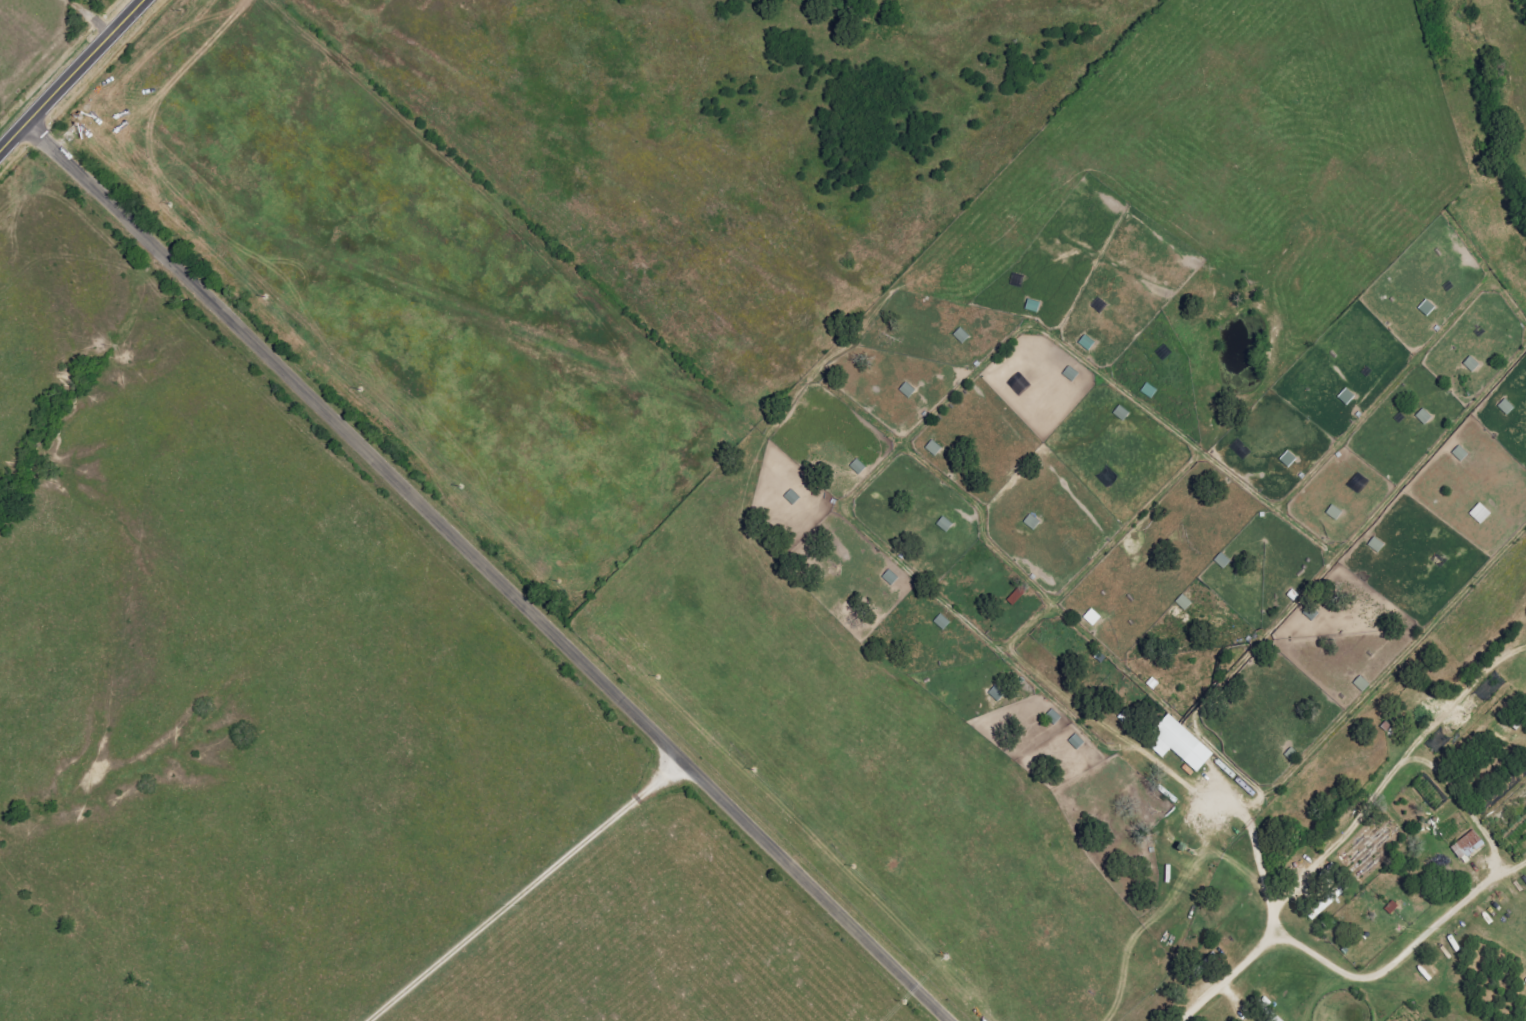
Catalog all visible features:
road: (69, 74)
building: (1505, 407)
building: (1422, 417)
road: (486, 571)
building: (1015, 596)
building: (1091, 618)
building: (1360, 684)
building: (1178, 744)
building: (1467, 846)
building: (1326, 901)
building: (1273, 1018)

